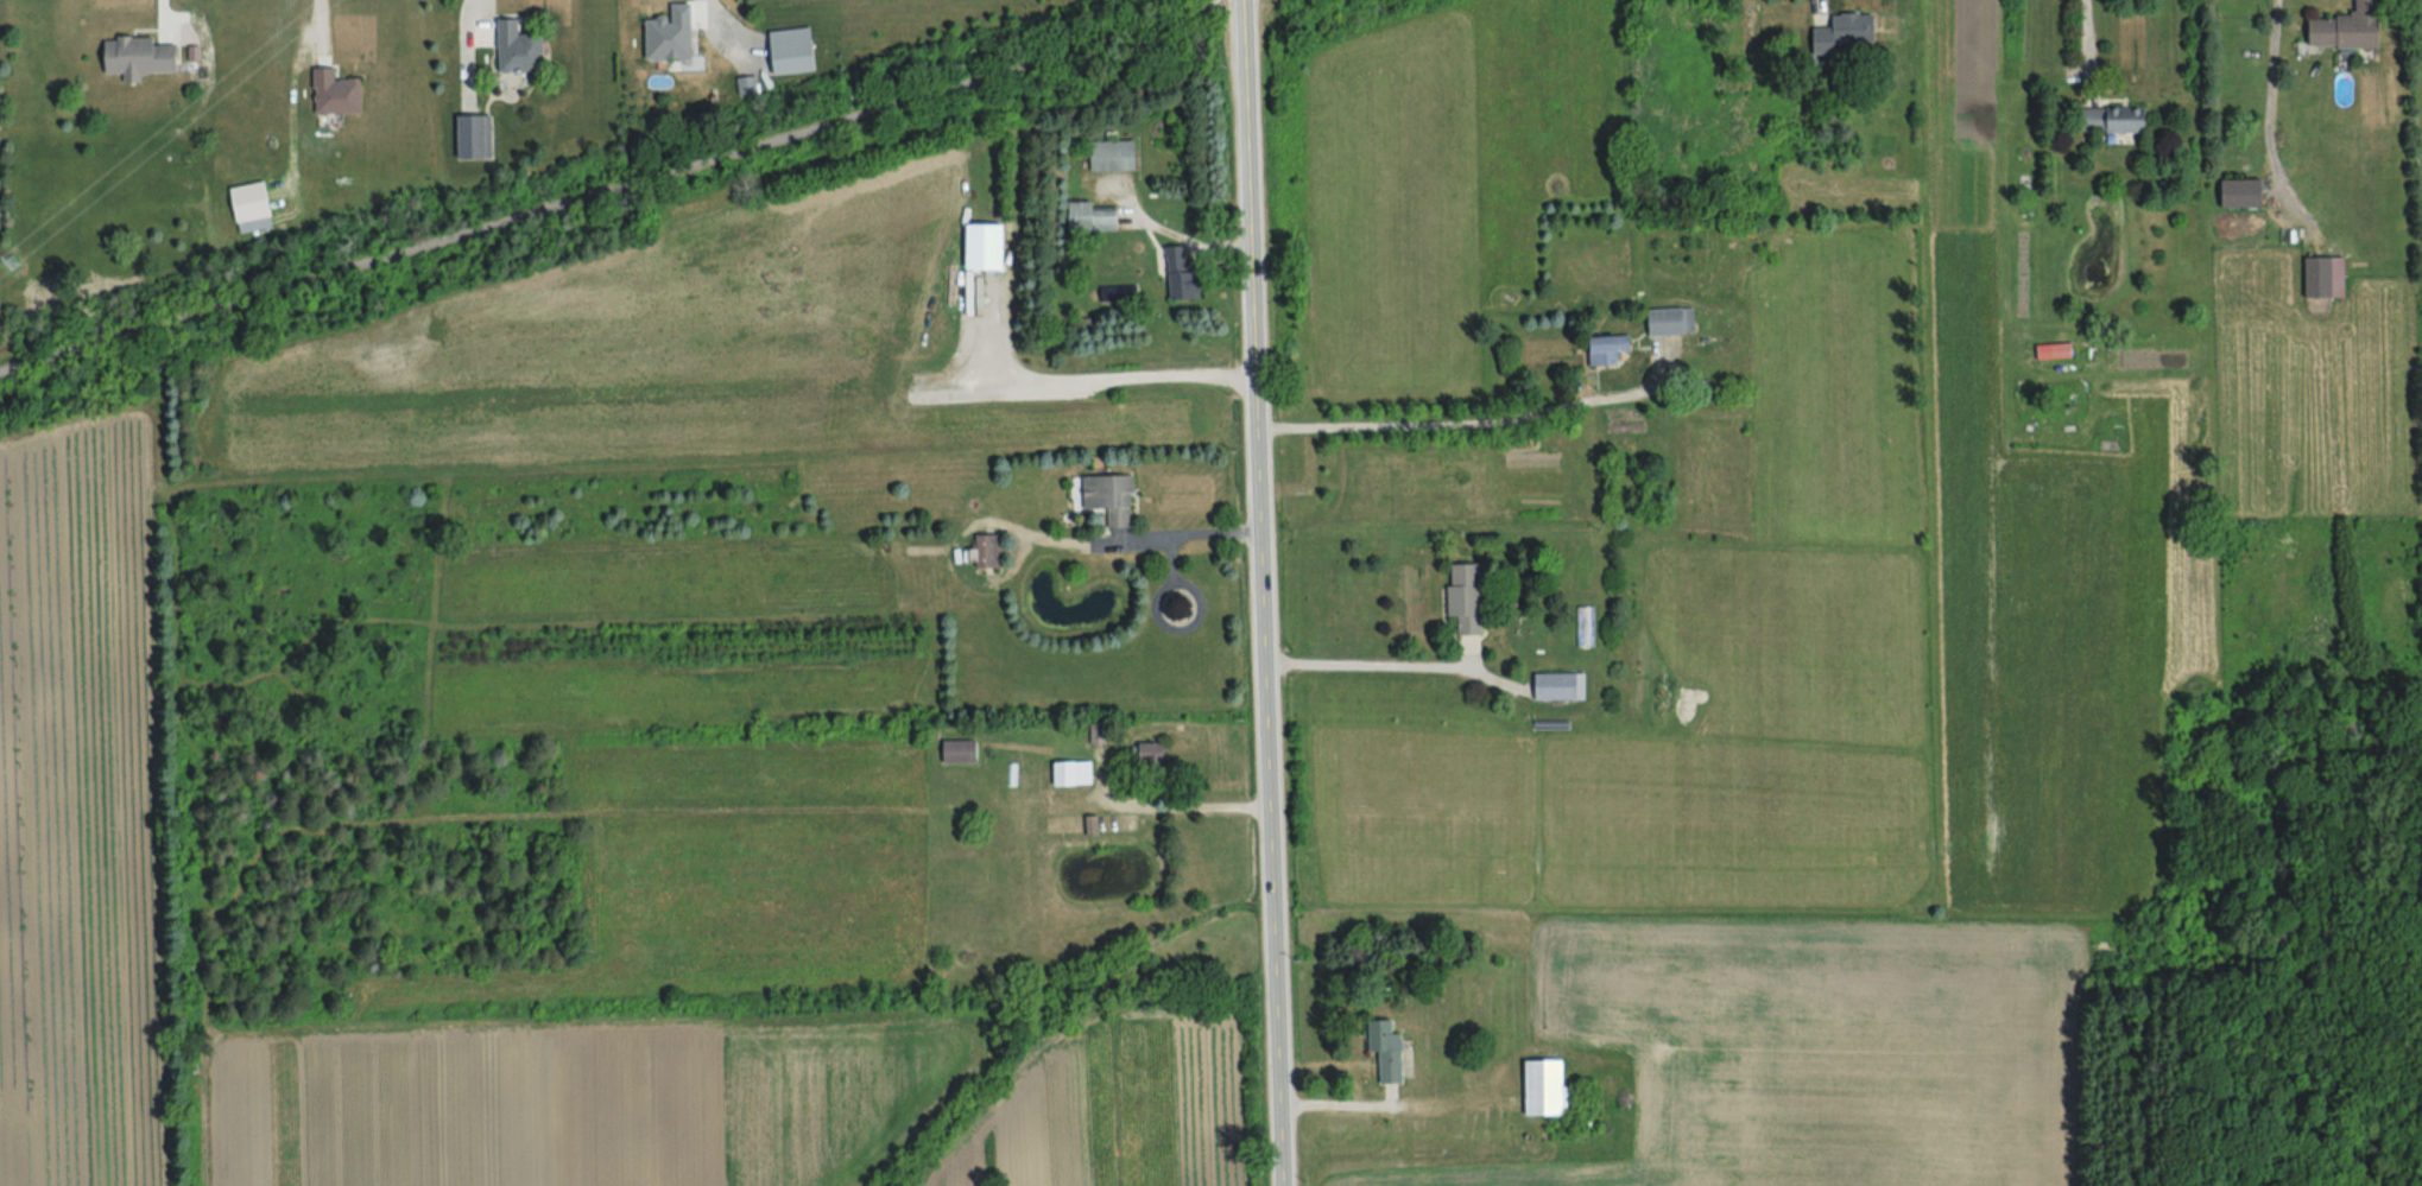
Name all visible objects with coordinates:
road: (1823, 5)
road: (324, 25)
building: (1848, 27)
building: (2353, 27)
building: (514, 31)
building: (674, 32)
road: (729, 32)
road: (2089, 49)
building: (341, 90)
road: (2274, 109)
building: (2124, 119)
building: (1119, 154)
crop: (1448, 177)
road: (609, 189)
building: (2247, 191)
building: (255, 201)
building: (1098, 216)
building: (991, 246)
power tower: (12, 267)
building: (2323, 275)
building: (1674, 319)
building: (1614, 348)
building: (2060, 350)
crop: (665, 353)
road: (1073, 376)
road: (1475, 424)
building: (1105, 491)
road: (1033, 534)
road: (1172, 560)
road: (1259, 592)
building: (1471, 596)
road: (1161, 600)
road: (1367, 662)
crop: (1721, 666)
building: (1566, 685)
crop: (709, 730)
building: (963, 750)
building: (1077, 773)
road: (1178, 808)
crop: (83, 816)
crop: (1809, 1048)
building: (1392, 1049)
building: (1555, 1089)
crop: (595, 1098)
road: (1335, 1102)
crop: (1113, 1109)

